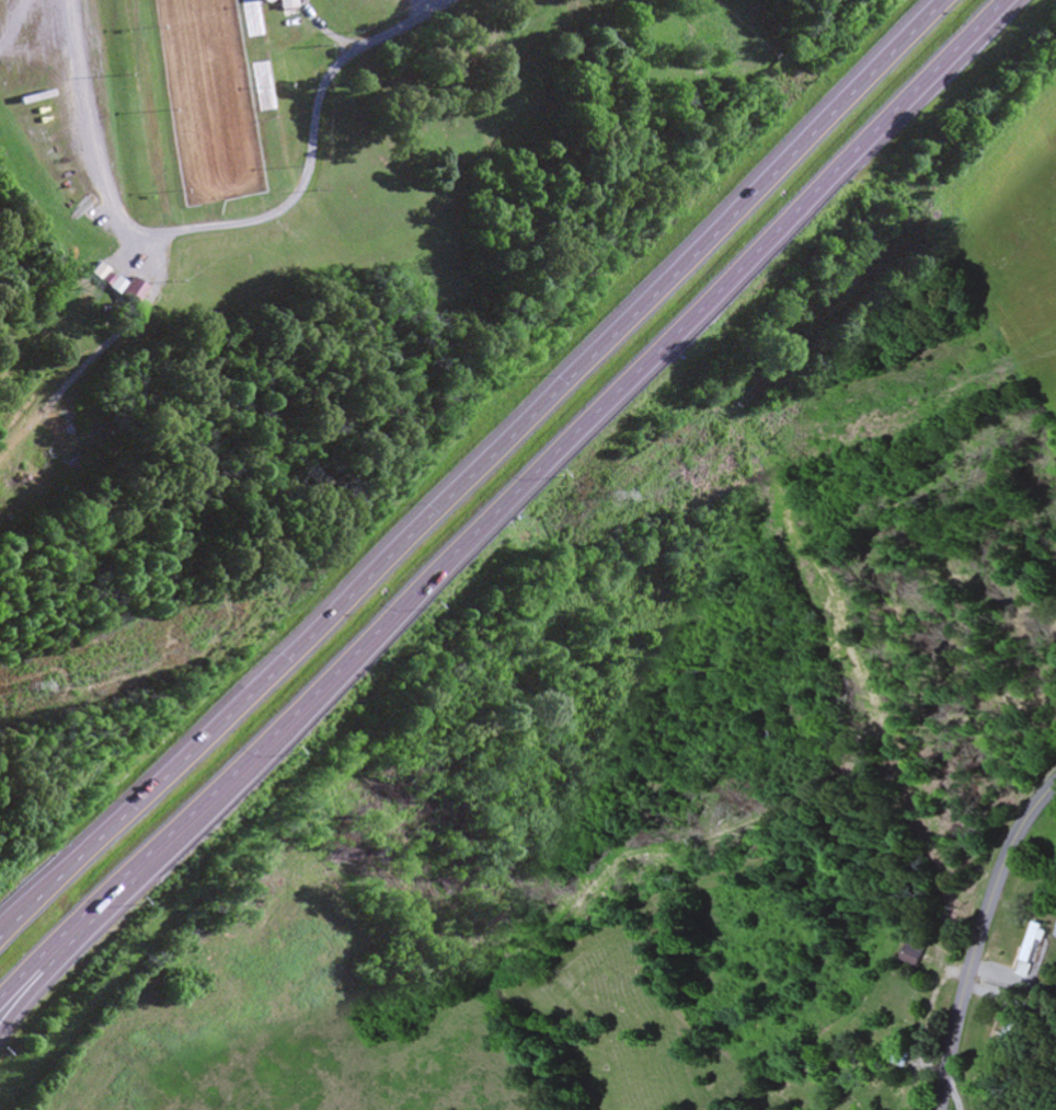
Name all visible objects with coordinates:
building: (283, 4)
building: (248, 19)
road: (326, 31)
building: (257, 86)
parking lot: (68, 101)
building: (268, 152)
road: (227, 229)
road: (503, 440)
road: (540, 465)
road: (31, 903)
road: (31, 910)
building: (1055, 935)
road: (982, 939)
building: (1034, 950)
road: (36, 969)
road: (36, 985)
building: (1011, 1028)
building: (883, 1096)

